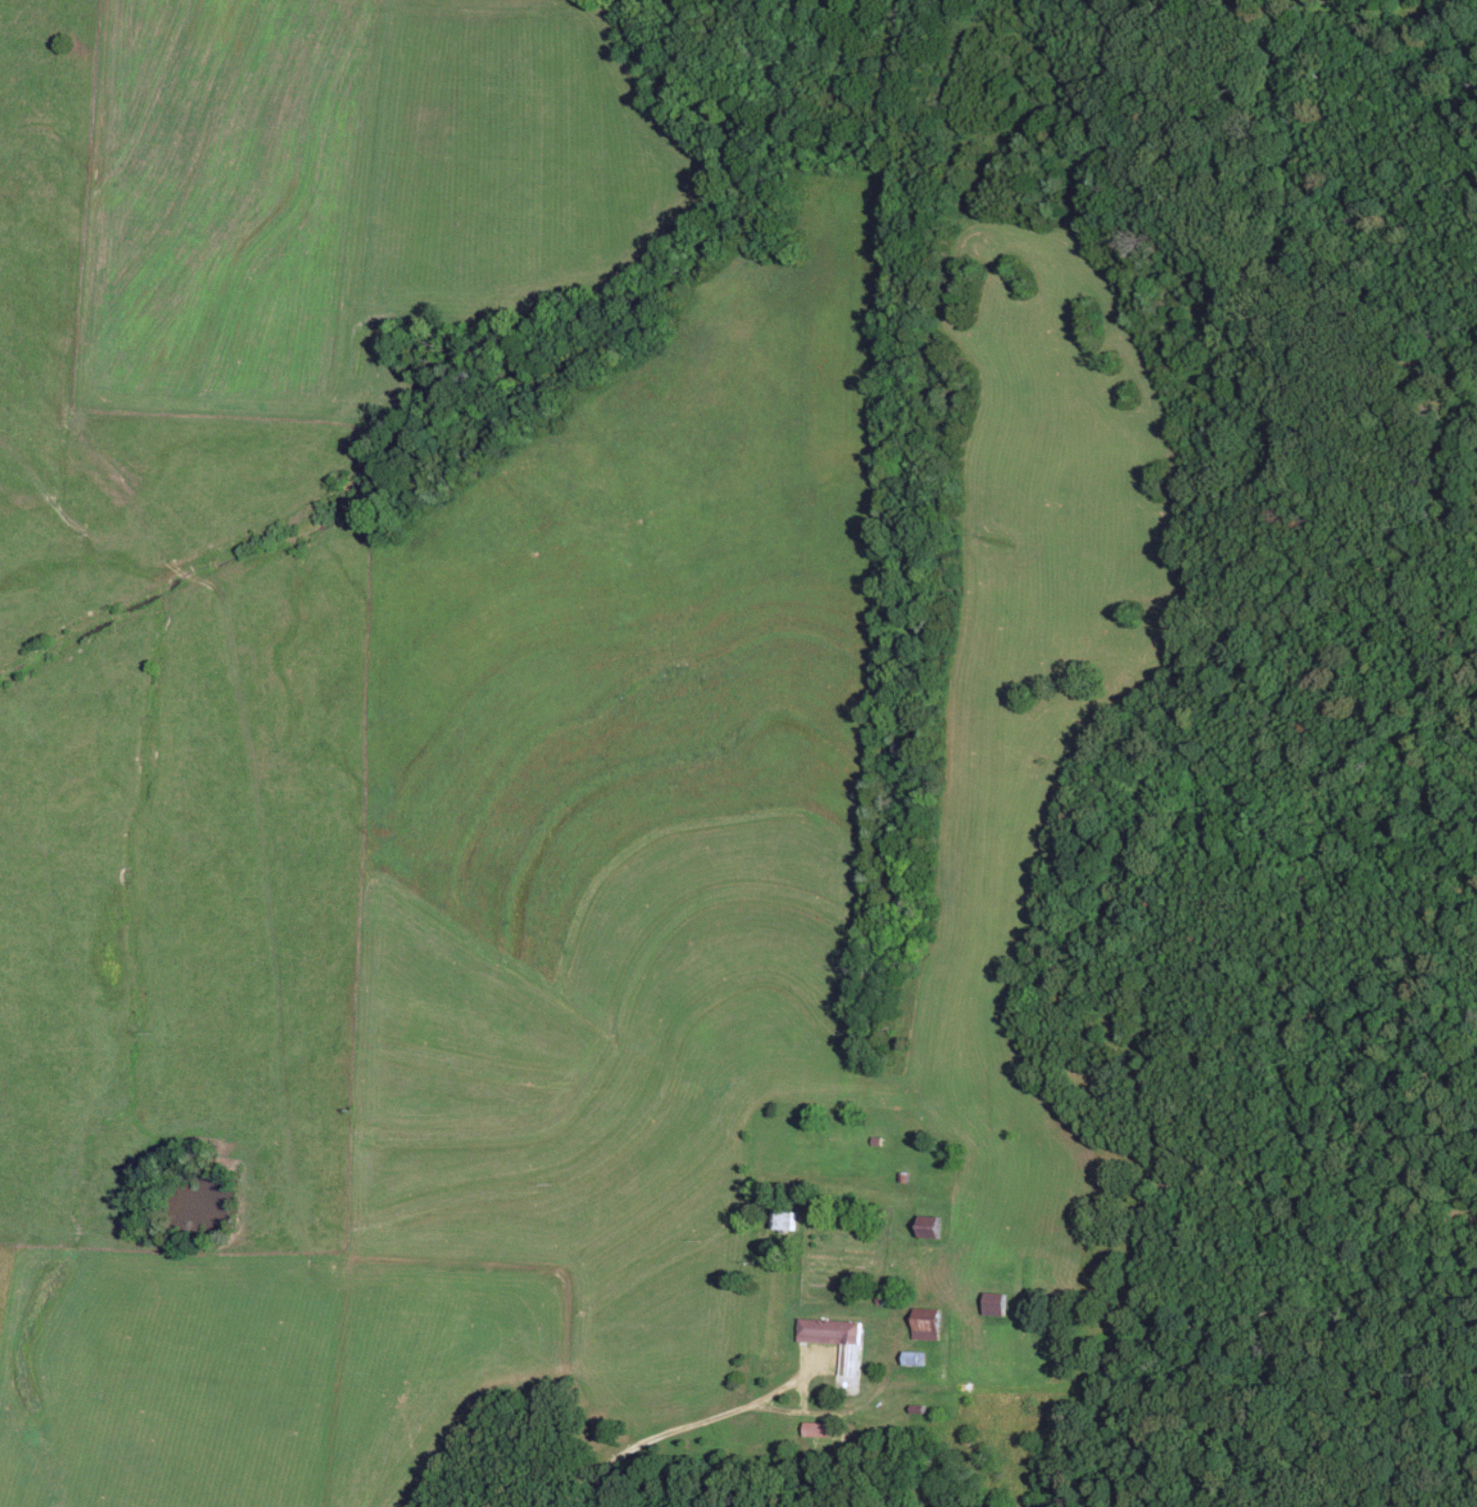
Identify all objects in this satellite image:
building: (783, 1222)
building: (929, 1228)
building: (993, 1306)
building: (925, 1325)
building: (836, 1342)
building: (913, 1360)
road: (784, 1415)
building: (818, 1432)

